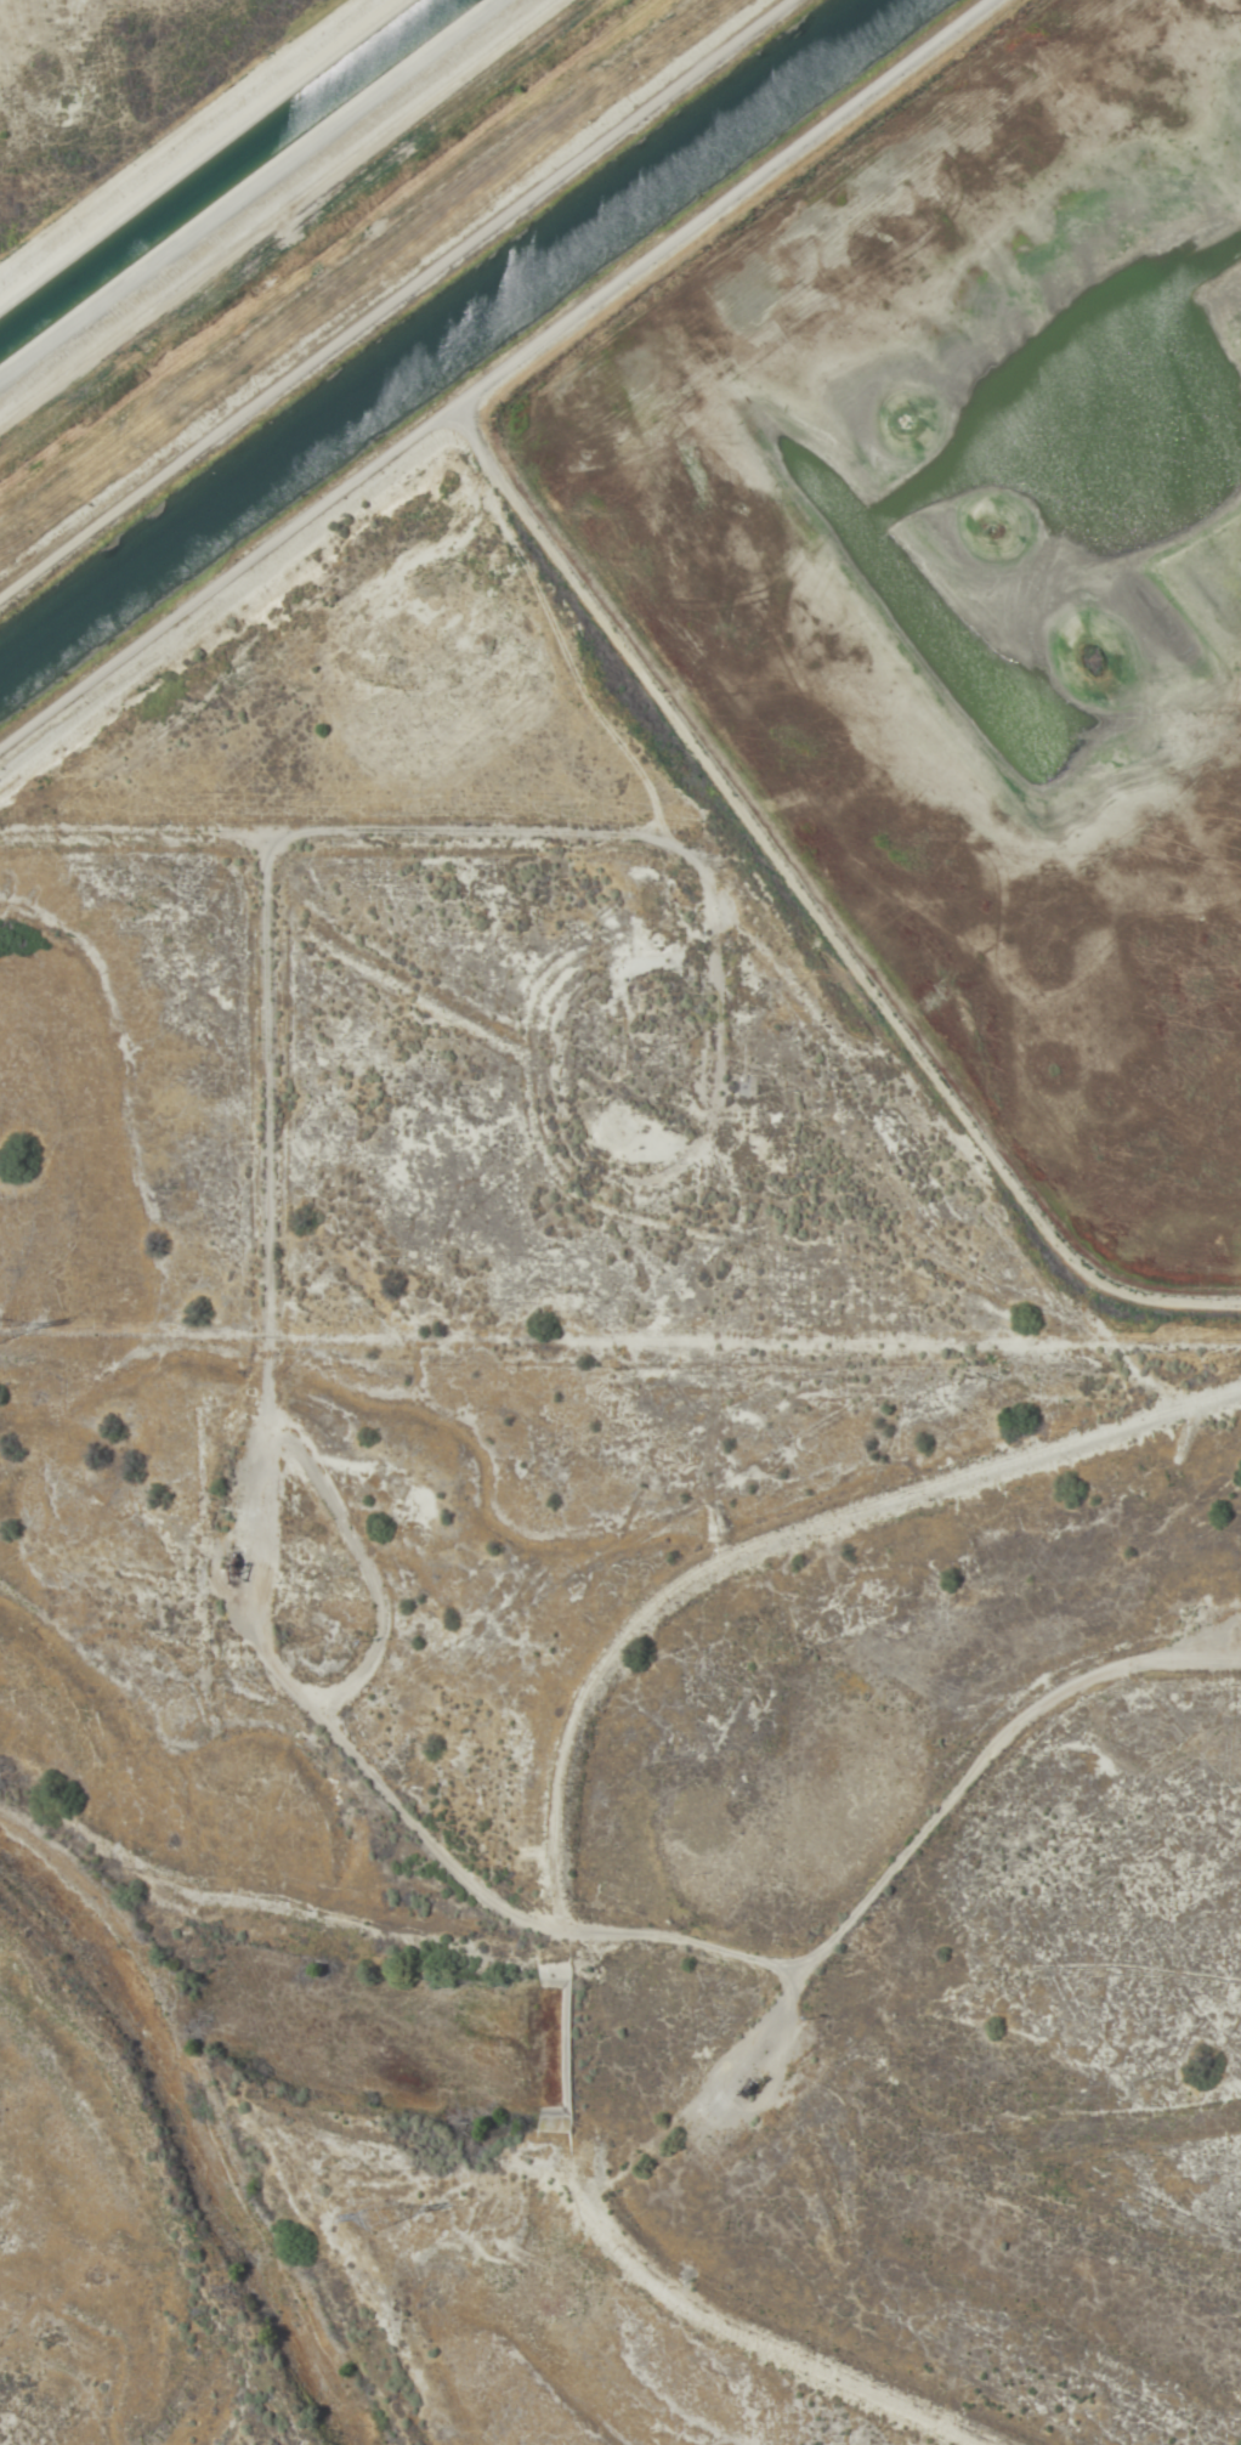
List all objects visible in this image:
crop: (129, 97)
road: (707, 197)
road: (602, 610)
road: (771, 1526)
road: (425, 1755)
wastewater plant: (455, 2009)
power tower: (373, 2217)
road: (698, 2283)

